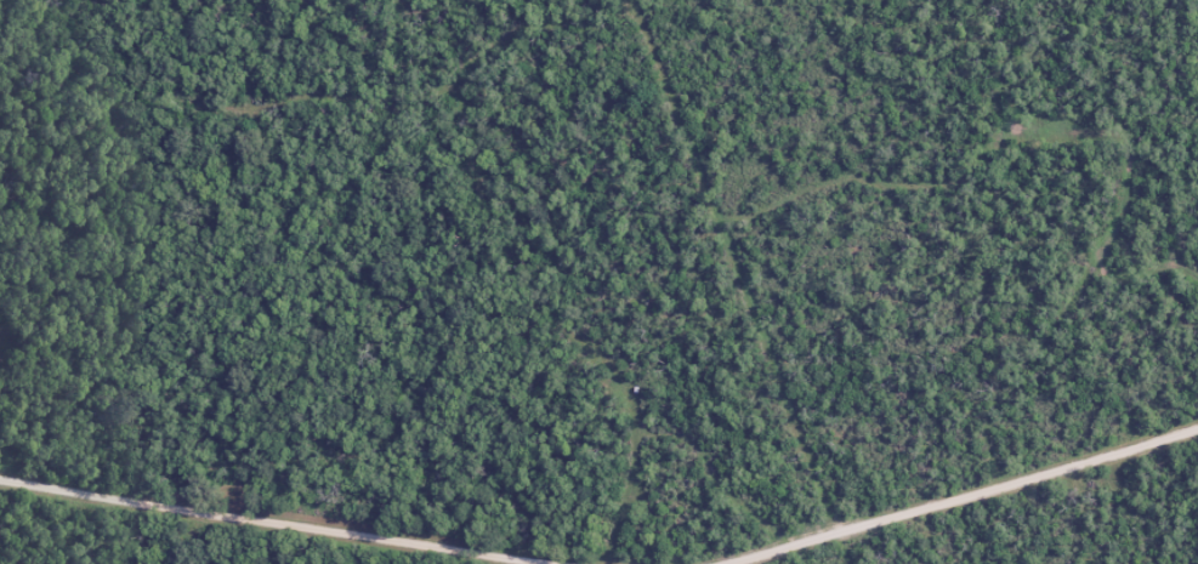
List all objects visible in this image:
road: (963, 499)
road: (269, 525)

